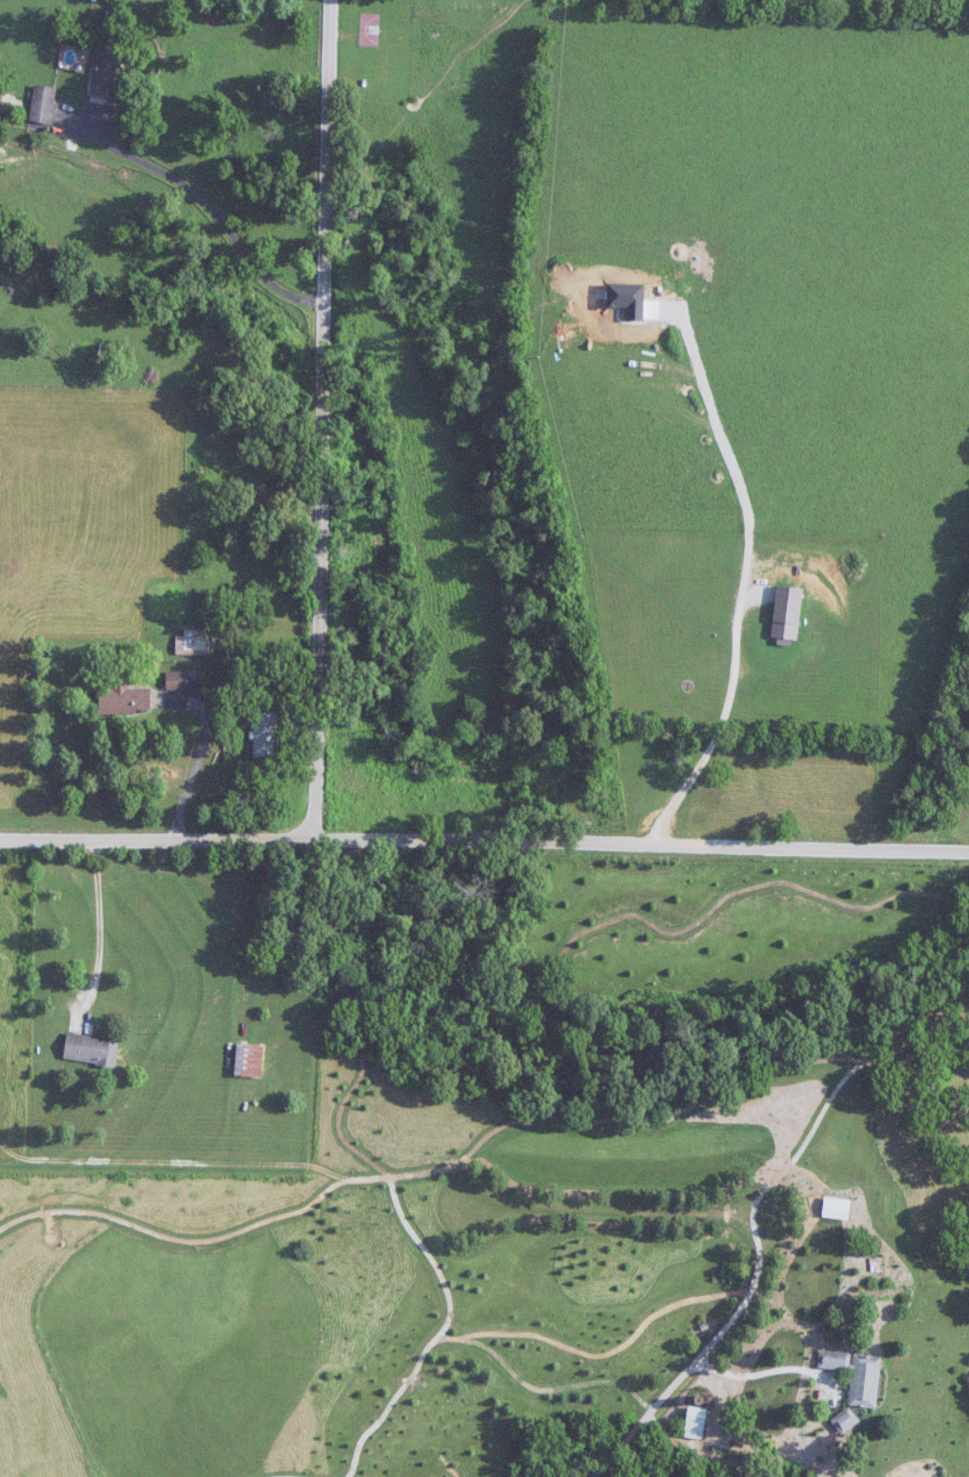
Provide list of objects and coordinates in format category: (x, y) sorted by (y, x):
building: (108, 68)
building: (43, 105)
road: (207, 206)
road: (321, 420)
road: (744, 568)
building: (195, 640)
building: (177, 680)
building: (125, 700)
building: (266, 734)
road: (201, 753)
road: (484, 839)
building: (91, 1051)
building: (249, 1061)
building: (836, 1209)
building: (833, 1361)
road: (689, 1369)
road: (769, 1371)
building: (865, 1381)
building: (845, 1420)
building: (695, 1422)

